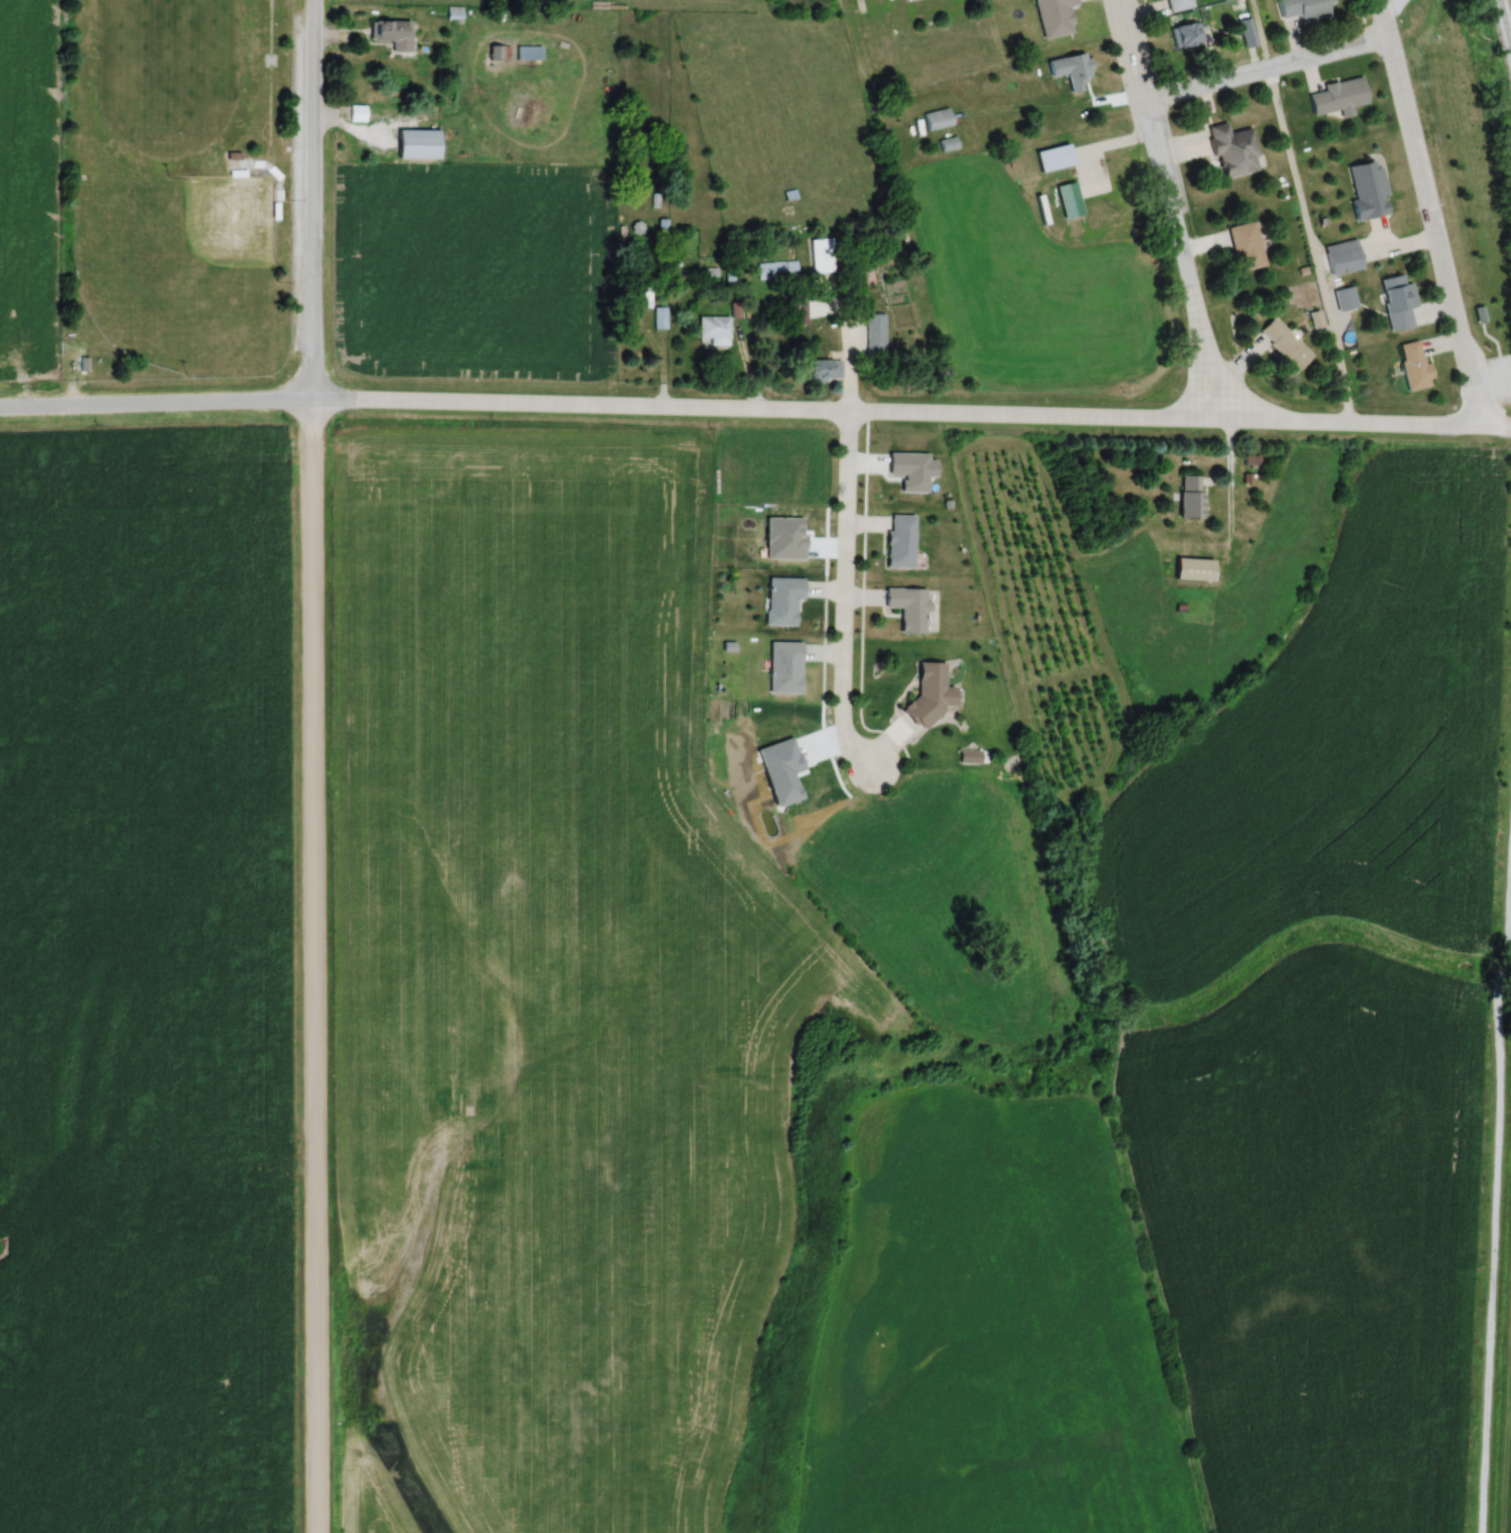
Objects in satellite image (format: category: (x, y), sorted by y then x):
crop: (830, 1)
building: (1178, 4)
road: (858, 5)
building: (1306, 9)
building: (1054, 17)
railway: (1505, 23)
building: (392, 33)
building: (1245, 33)
building: (1186, 35)
building: (501, 53)
building: (1071, 70)
road: (1263, 72)
building: (1338, 98)
building: (357, 113)
building: (937, 119)
building: (415, 144)
building: (1232, 151)
building: (1052, 158)
road: (1157, 163)
building: (1366, 190)
building: (1068, 198)
road: (310, 199)
road: (1428, 212)
building: (1245, 247)
road: (1307, 248)
building: (822, 254)
building: (1341, 258)
building: (777, 269)
building: (1344, 299)
building: (1397, 302)
building: (1479, 316)
building: (714, 329)
building: (1283, 344)
building: (1413, 367)
building: (824, 368)
road: (1214, 370)
road: (1192, 372)
parking lot: (1500, 380)
road: (1483, 394)
road: (154, 403)
road: (761, 409)
road: (1362, 424)
building: (1190, 495)
building: (899, 540)
building: (1193, 568)
road: (842, 593)
building: (782, 600)
building: (930, 691)
crop: (1329, 752)
road: (313, 966)
road: (1492, 1159)
crop: (1316, 1238)
crop: (377, 1489)

